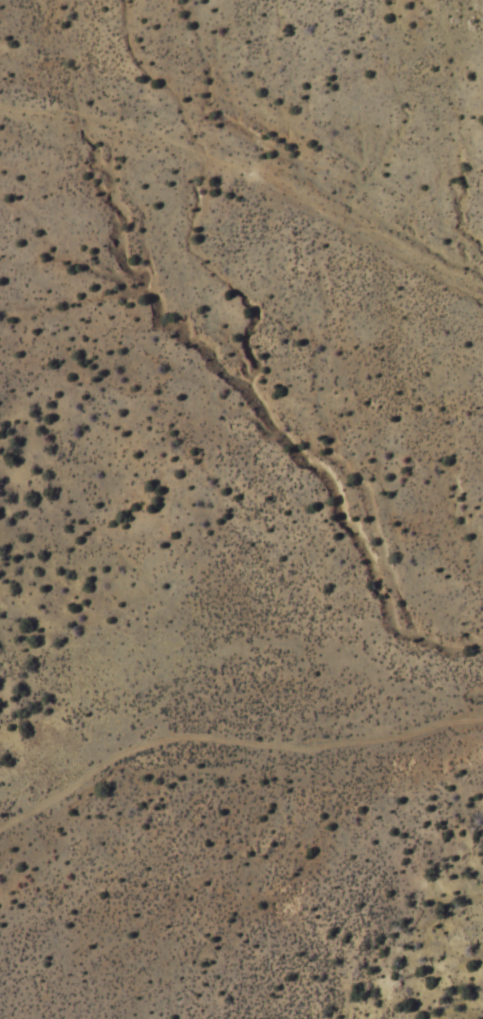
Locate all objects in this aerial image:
road: (414, 24)
road: (246, 132)

